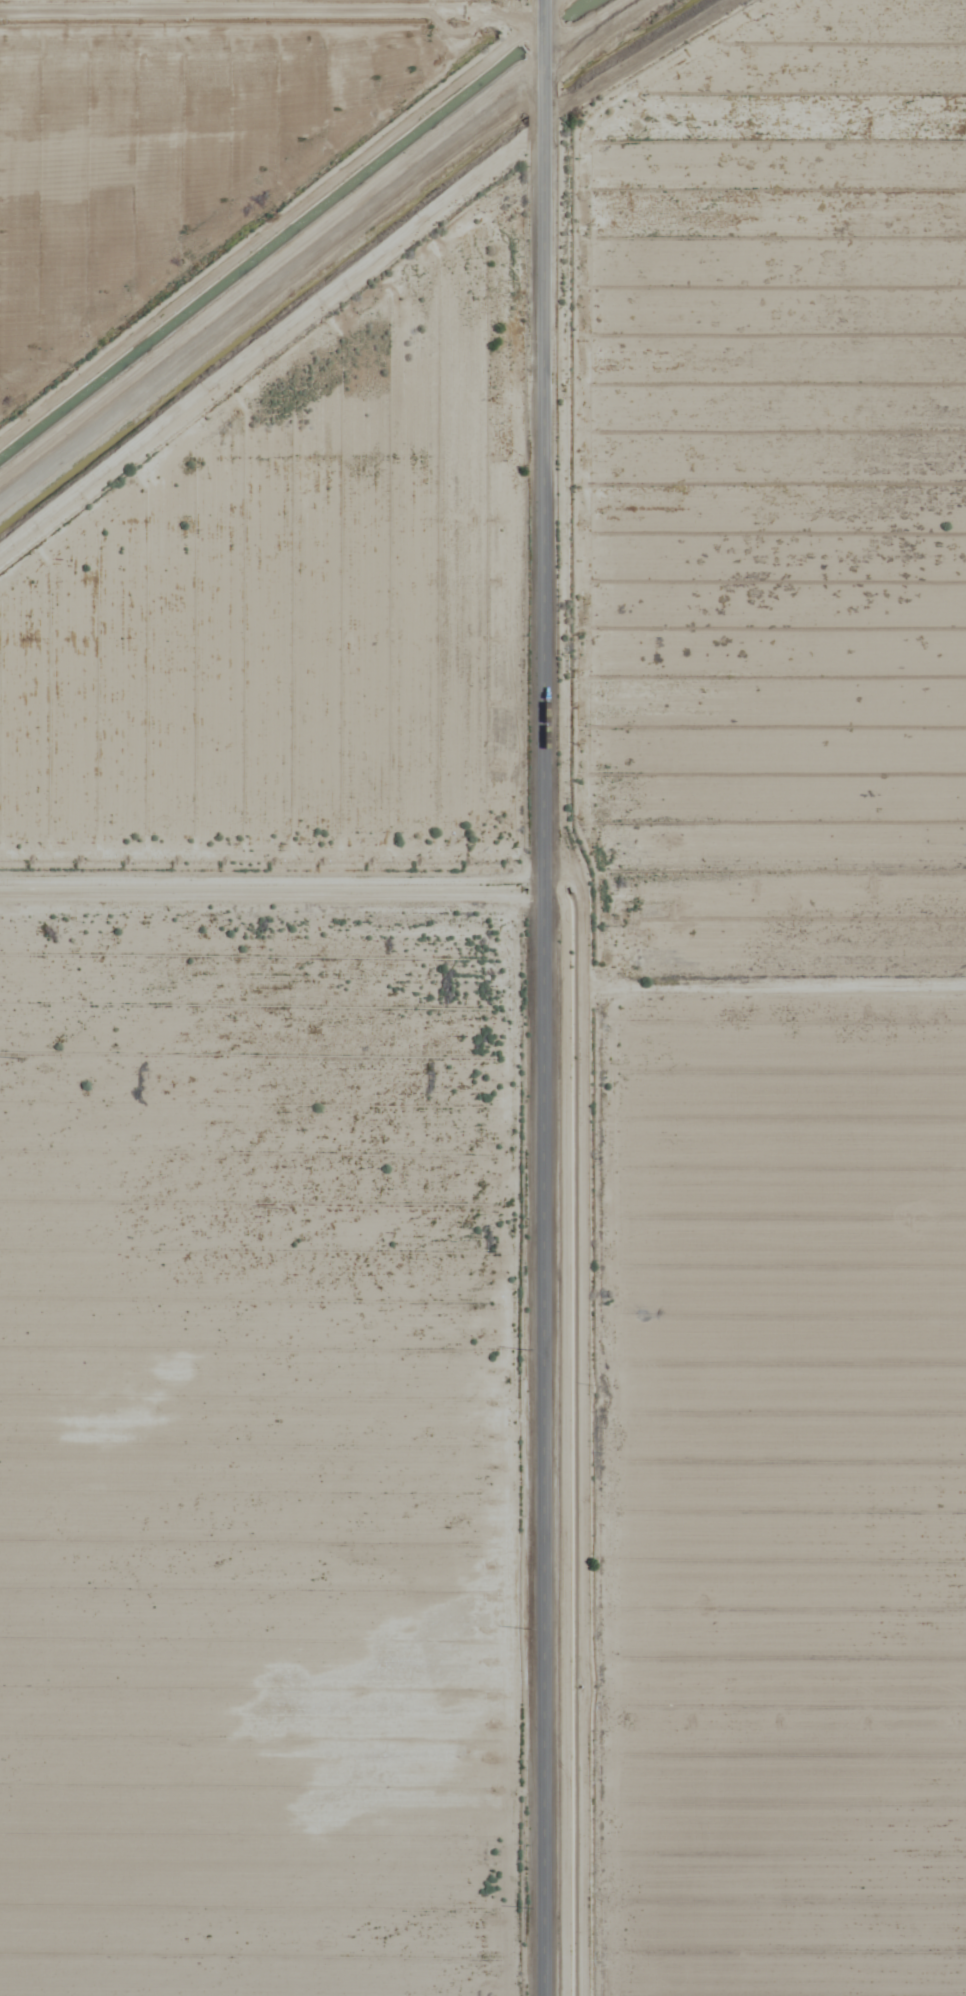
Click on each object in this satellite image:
road: (549, 998)
crop: (242, 1000)

